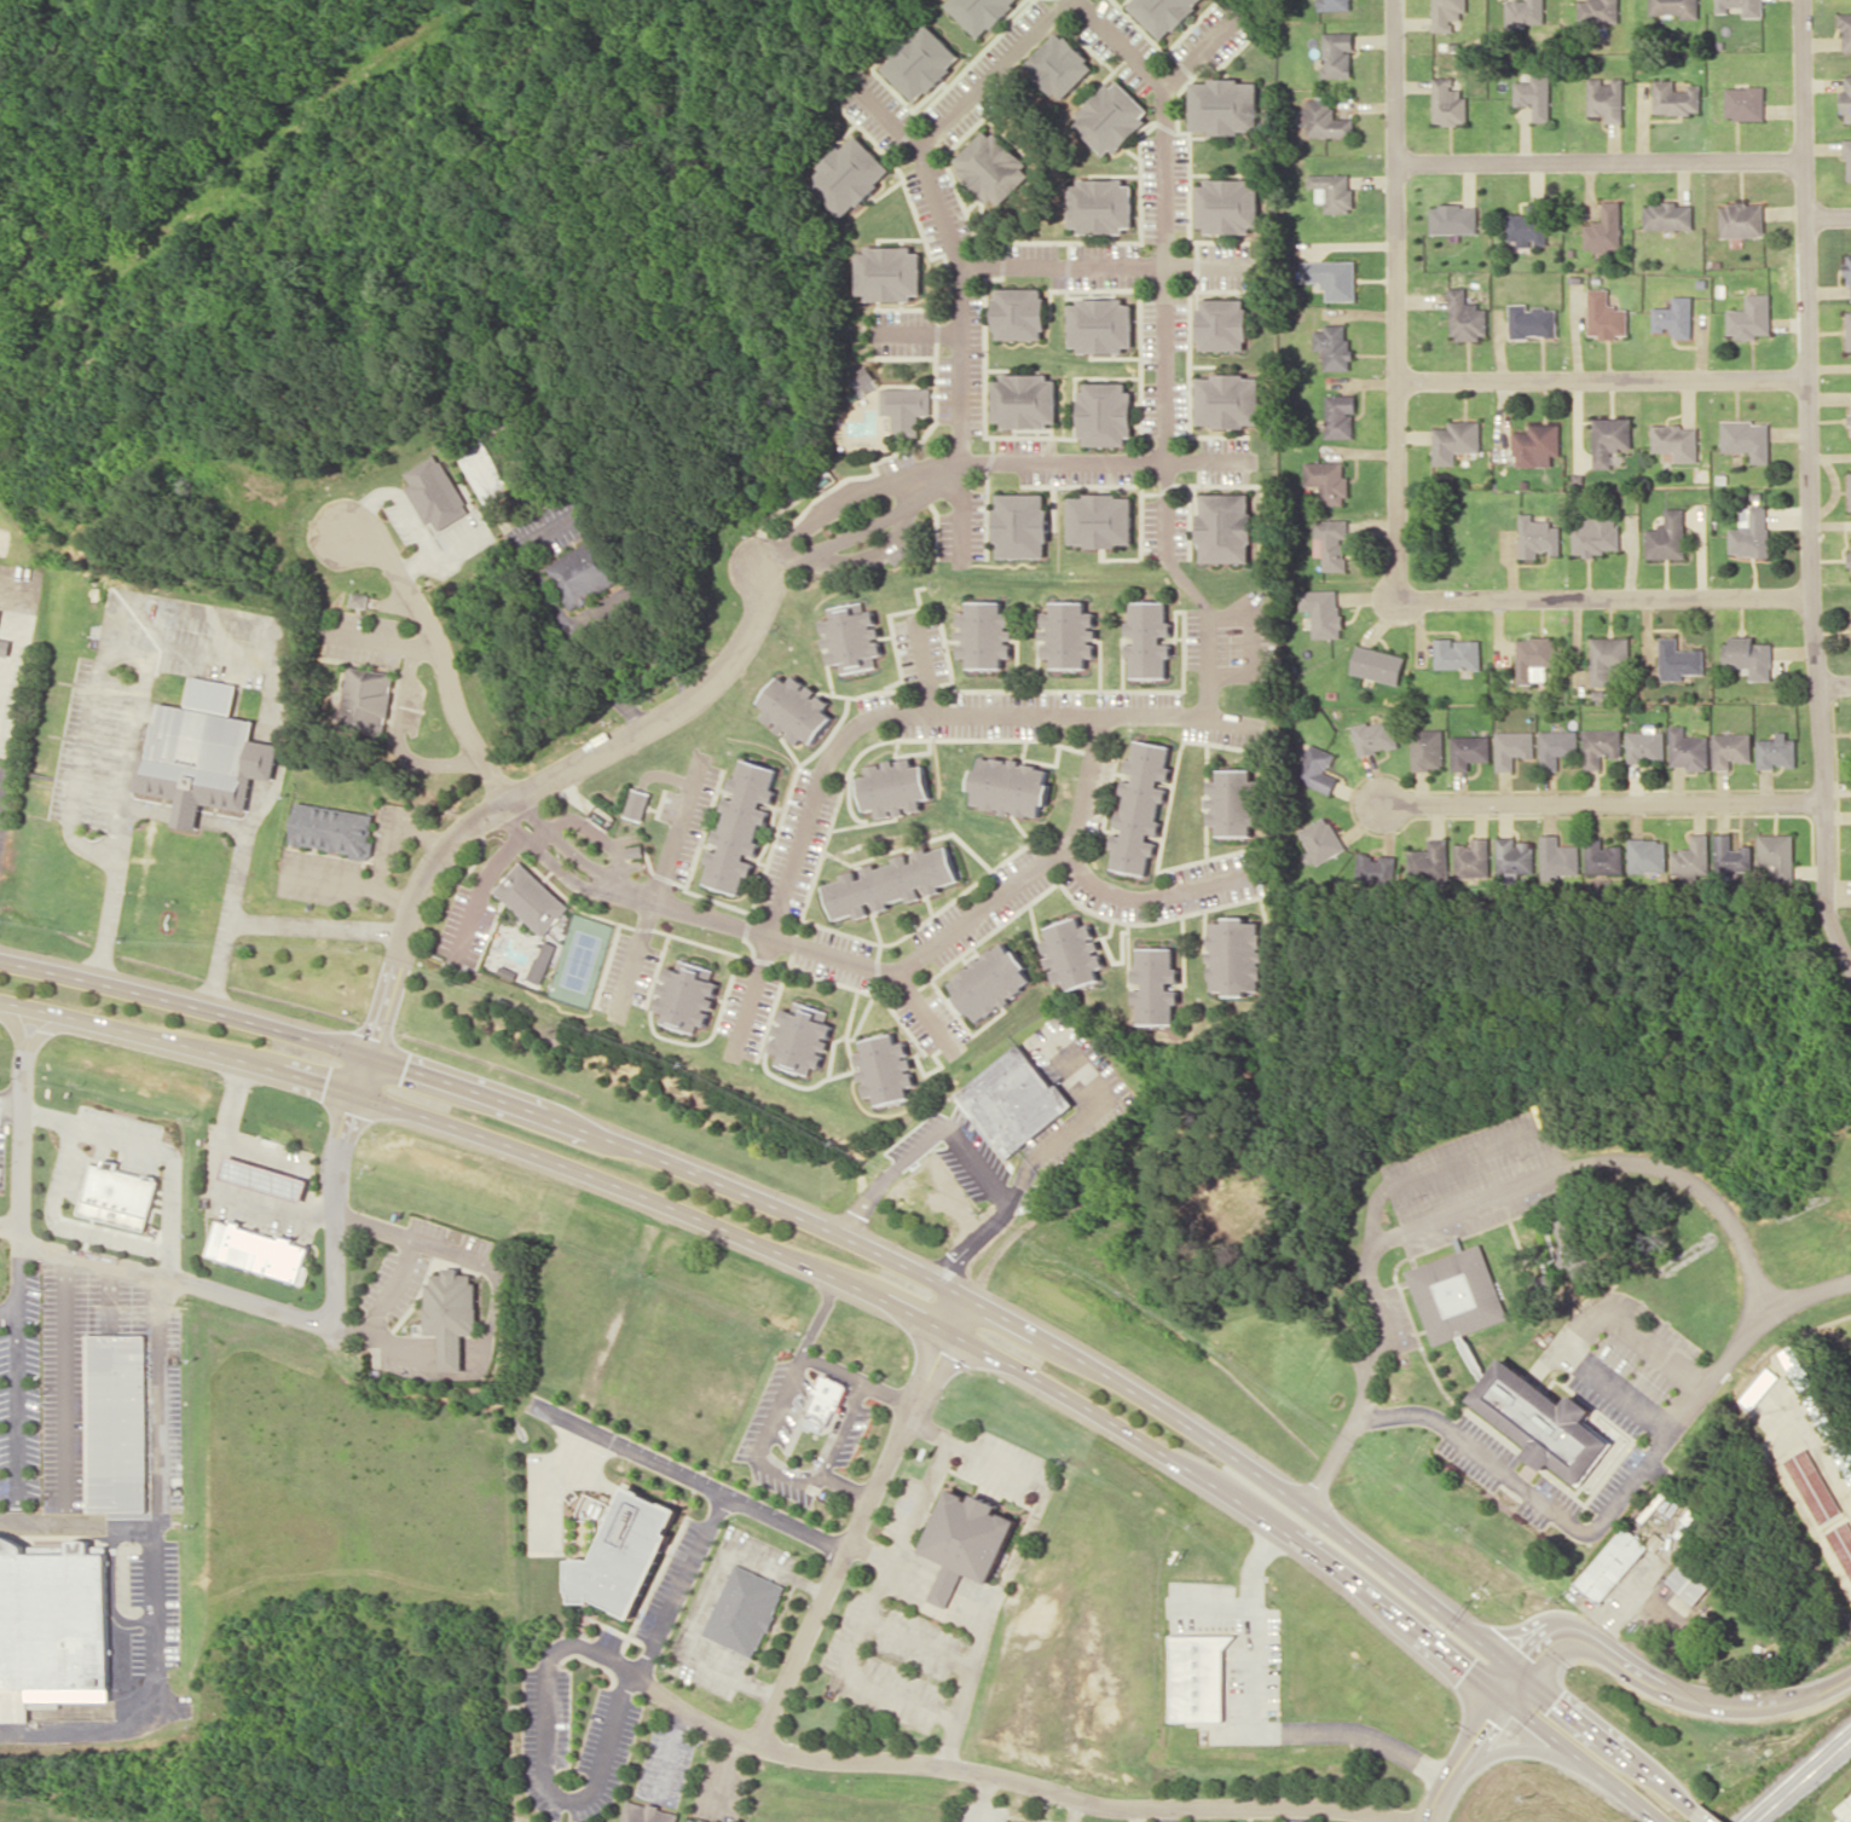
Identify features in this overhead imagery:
building: (1336, 4)
building: (1674, 6)
building: (1742, 6)
building: (1525, 11)
building: (981, 12)
building: (1598, 12)
building: (1164, 13)
building: (1447, 13)
building: (1845, 30)
building: (1337, 54)
building: (921, 62)
building: (1059, 64)
building: (1534, 96)
building: (1676, 97)
building: (1607, 98)
building: (1846, 98)
building: (1447, 100)
building: (1745, 102)
building: (1225, 105)
building: (1112, 116)
building: (1325, 120)
building: (1847, 155)
road: (1600, 161)
building: (991, 166)
building: (849, 175)
building: (1332, 190)
building: (1101, 204)
building: (1228, 204)
building: (1668, 215)
road: (1828, 215)
building: (1453, 218)
building: (1742, 219)
building: (1528, 225)
building: (1606, 229)
road: (944, 245)
road: (1162, 260)
road: (1099, 268)
building: (889, 272)
building: (1849, 276)
building: (1332, 277)
road: (1805, 296)
building: (1019, 312)
building: (1606, 314)
building: (1467, 316)
building: (1676, 317)
building: (1751, 317)
building: (1533, 320)
building: (1222, 323)
building: (1101, 324)
building: (1849, 329)
building: (1335, 345)
building: (864, 380)
road: (1601, 380)
building: (1024, 400)
building: (1228, 400)
building: (906, 407)
building: (1105, 412)
building: (1341, 416)
building: (1610, 438)
building: (1747, 438)
building: (1456, 440)
building: (1677, 440)
building: (1537, 444)
building: (485, 470)
building: (1327, 480)
building: (1850, 488)
building: (435, 492)
road: (1395, 504)
building: (1100, 520)
building: (1020, 525)
building: (1226, 527)
building: (1751, 532)
building: (1597, 534)
building: (1538, 536)
building: (1668, 536)
building: (1331, 543)
building: (585, 572)
building: (358, 598)
road: (399, 600)
building: (0, 608)
building: (1323, 611)
road: (1203, 632)
building: (984, 634)
building: (1069, 634)
building: (852, 636)
building: (1149, 638)
road: (380, 640)
building: (4, 643)
road: (192, 653)
building: (1457, 653)
building: (1534, 655)
building: (1749, 657)
building: (1608, 658)
building: (1679, 659)
building: (1377, 664)
road: (1834, 683)
road: (701, 689)
building: (213, 694)
building: (360, 702)
building: (796, 708)
road: (875, 717)
building: (1375, 735)
road: (86, 740)
road: (399, 740)
road: (282, 744)
building: (1600, 746)
building: (1645, 746)
building: (1511, 747)
building: (1556, 747)
building: (1427, 748)
building: (1688, 748)
building: (1731, 748)
building: (1469, 750)
building: (1776, 751)
building: (203, 759)
building: (1318, 769)
road: (1823, 782)
building: (1010, 786)
building: (893, 787)
building: (1234, 802)
road: (1604, 802)
building: (638, 803)
building: (1141, 806)
road: (125, 814)
road: (187, 820)
building: (329, 828)
road: (421, 834)
building: (729, 834)
building: (1321, 839)
road: (389, 848)
building: (1512, 854)
building: (1778, 854)
building: (1556, 855)
building: (1645, 855)
building: (1733, 855)
building: (1430, 856)
building: (1469, 856)
building: (1693, 856)
building: (1600, 858)
road: (347, 883)
building: (891, 883)
road: (1150, 893)
building: (524, 904)
road: (695, 915)
road: (316, 926)
building: (542, 961)
park: (575, 961)
building: (1062, 961)
building: (1221, 965)
building: (978, 989)
building: (1144, 994)
building: (673, 1005)
road: (30, 1045)
building: (787, 1047)
traffic signals: (360, 1074)
building: (872, 1077)
parking lot: (1076, 1091)
road: (11, 1095)
road: (492, 1098)
building: (1014, 1100)
road: (1077, 1120)
road: (922, 1133)
road: (484, 1136)
road: (22, 1144)
parking lot: (958, 1150)
road: (1603, 1161)
building: (264, 1178)
gas station: (264, 1178)
road: (1407, 1178)
building: (121, 1188)
road: (973, 1244)
building: (1574, 1245)
building: (261, 1250)
road: (19, 1276)
building: (1544, 1283)
road: (110, 1292)
building: (1457, 1294)
road: (271, 1306)
building: (452, 1313)
road: (10, 1315)
road: (1581, 1330)
road: (1548, 1358)
building: (1795, 1367)
road: (857, 1378)
road: (66, 1386)
building: (1758, 1387)
building: (826, 1398)
building: (1822, 1413)
road: (18, 1418)
building: (1541, 1421)
building: (117, 1422)
road: (1349, 1430)
road: (758, 1450)
building: (1843, 1458)
road: (689, 1476)
building: (1812, 1483)
road: (846, 1485)
road: (160, 1492)
road: (1622, 1492)
road: (860, 1519)
road: (76, 1521)
road: (1343, 1534)
building: (966, 1540)
building: (1841, 1542)
building: (624, 1554)
road: (1318, 1557)
building: (1612, 1562)
building: (1690, 1579)
road: (682, 1585)
road: (110, 1587)
building: (744, 1609)
building: (52, 1615)
traffic signals: (1521, 1674)
building: (1198, 1677)
road: (1674, 1694)
traffic signals: (1505, 1699)
road: (79, 1728)
road: (1514, 1745)
road: (1473, 1746)
road: (831, 1756)
railway: (1794, 1772)
railway: (1803, 1780)
road: (569, 1800)
road: (1285, 1805)
building: (1845, 1809)
building: (648, 1812)
road: (1705, 1816)
building: (695, 1820)
building: (1011, 1821)

